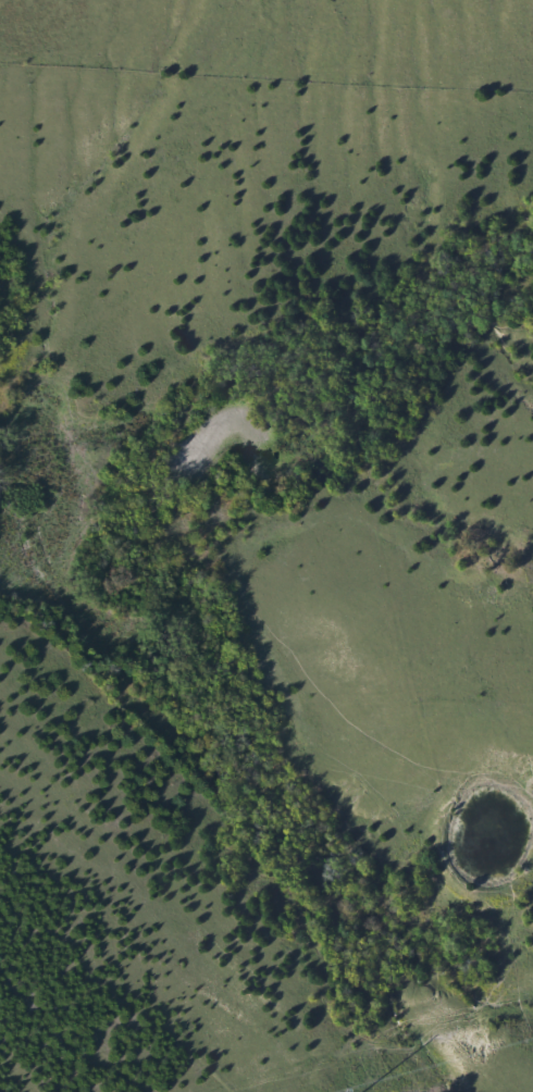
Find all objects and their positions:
power tower: (343, 1078)

